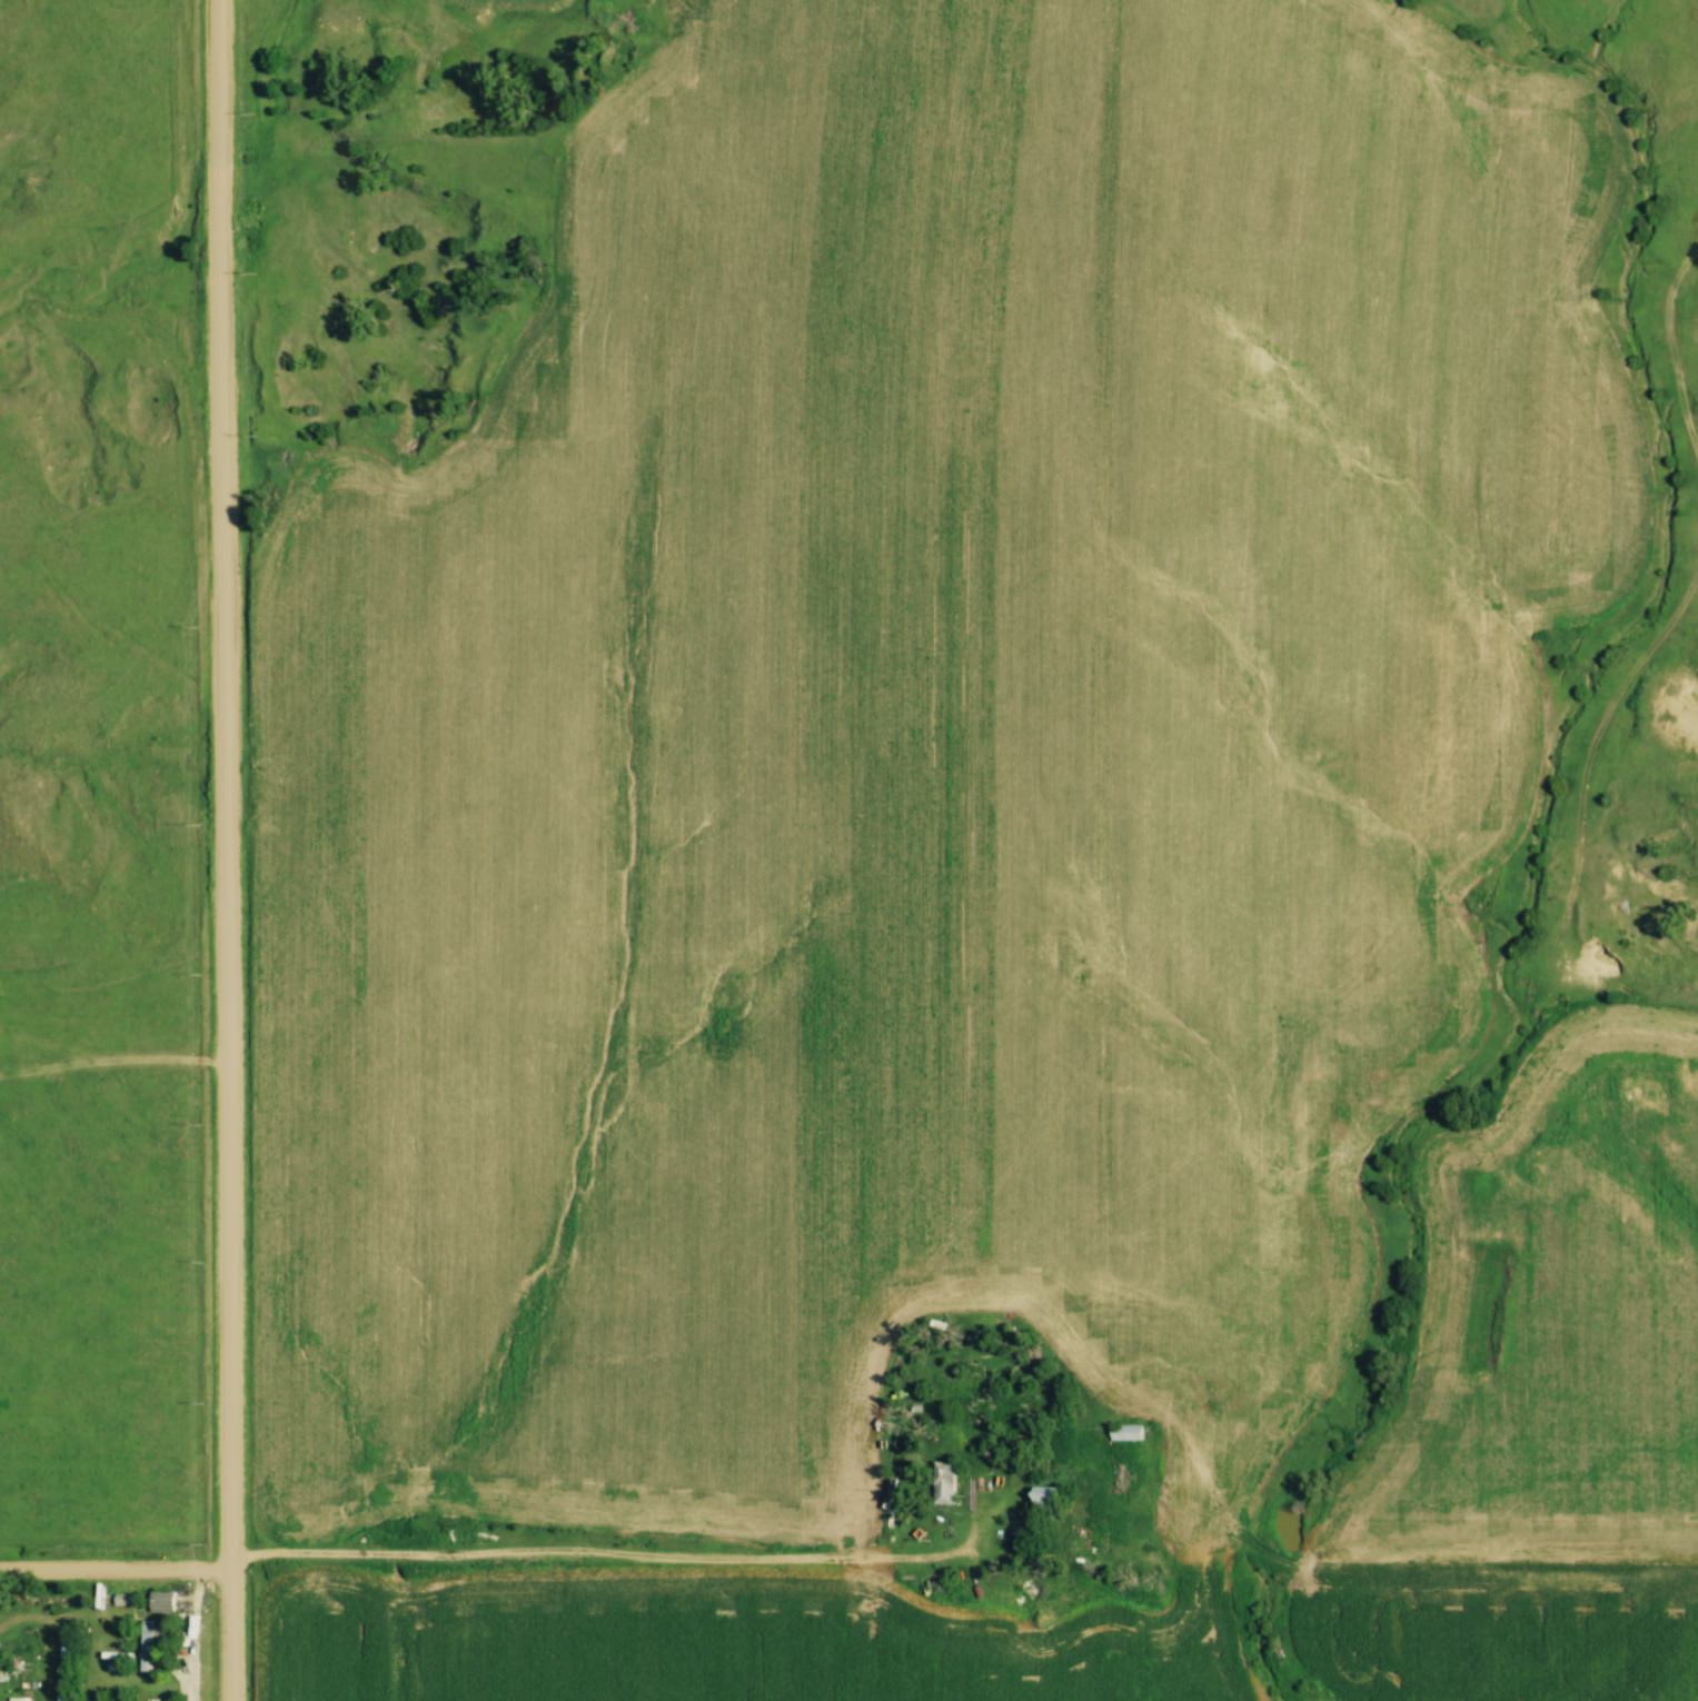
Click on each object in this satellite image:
road: (228, 849)
building: (1121, 1431)
building: (939, 1482)
building: (1039, 1496)
road: (635, 1556)
road: (115, 1569)
building: (127, 1599)
building: (165, 1601)
building: (147, 1645)

